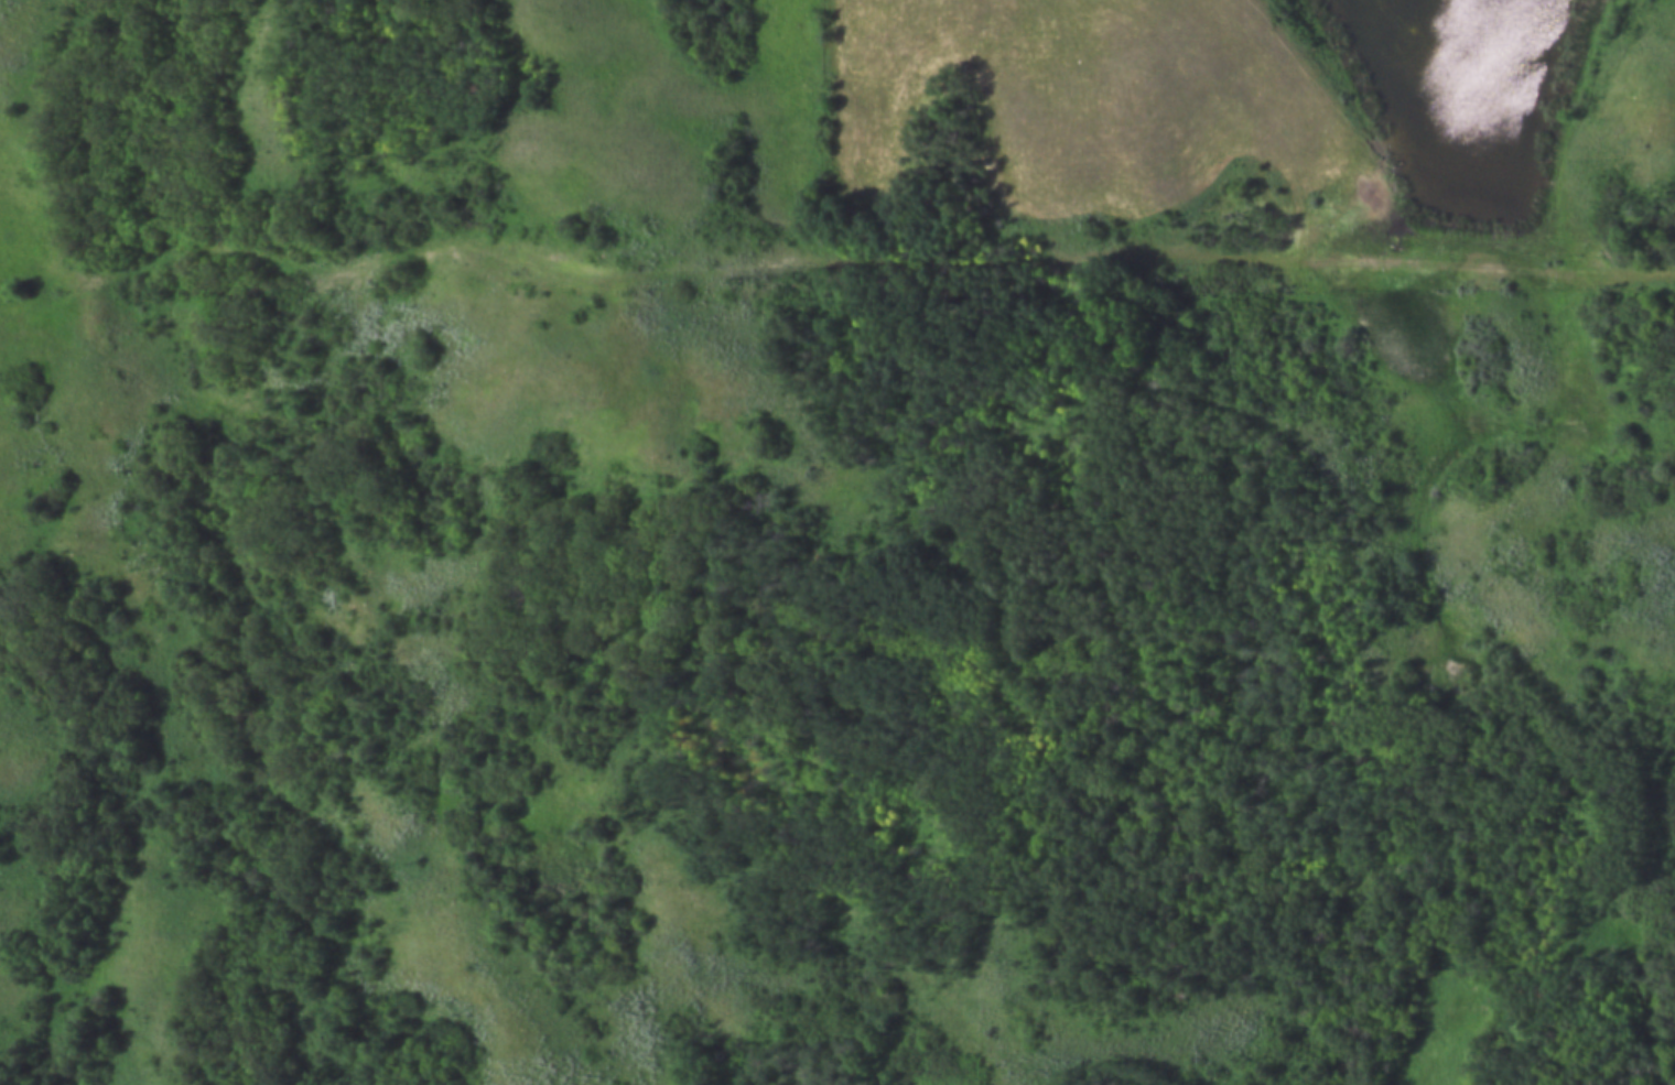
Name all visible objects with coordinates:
road: (832, 260)

